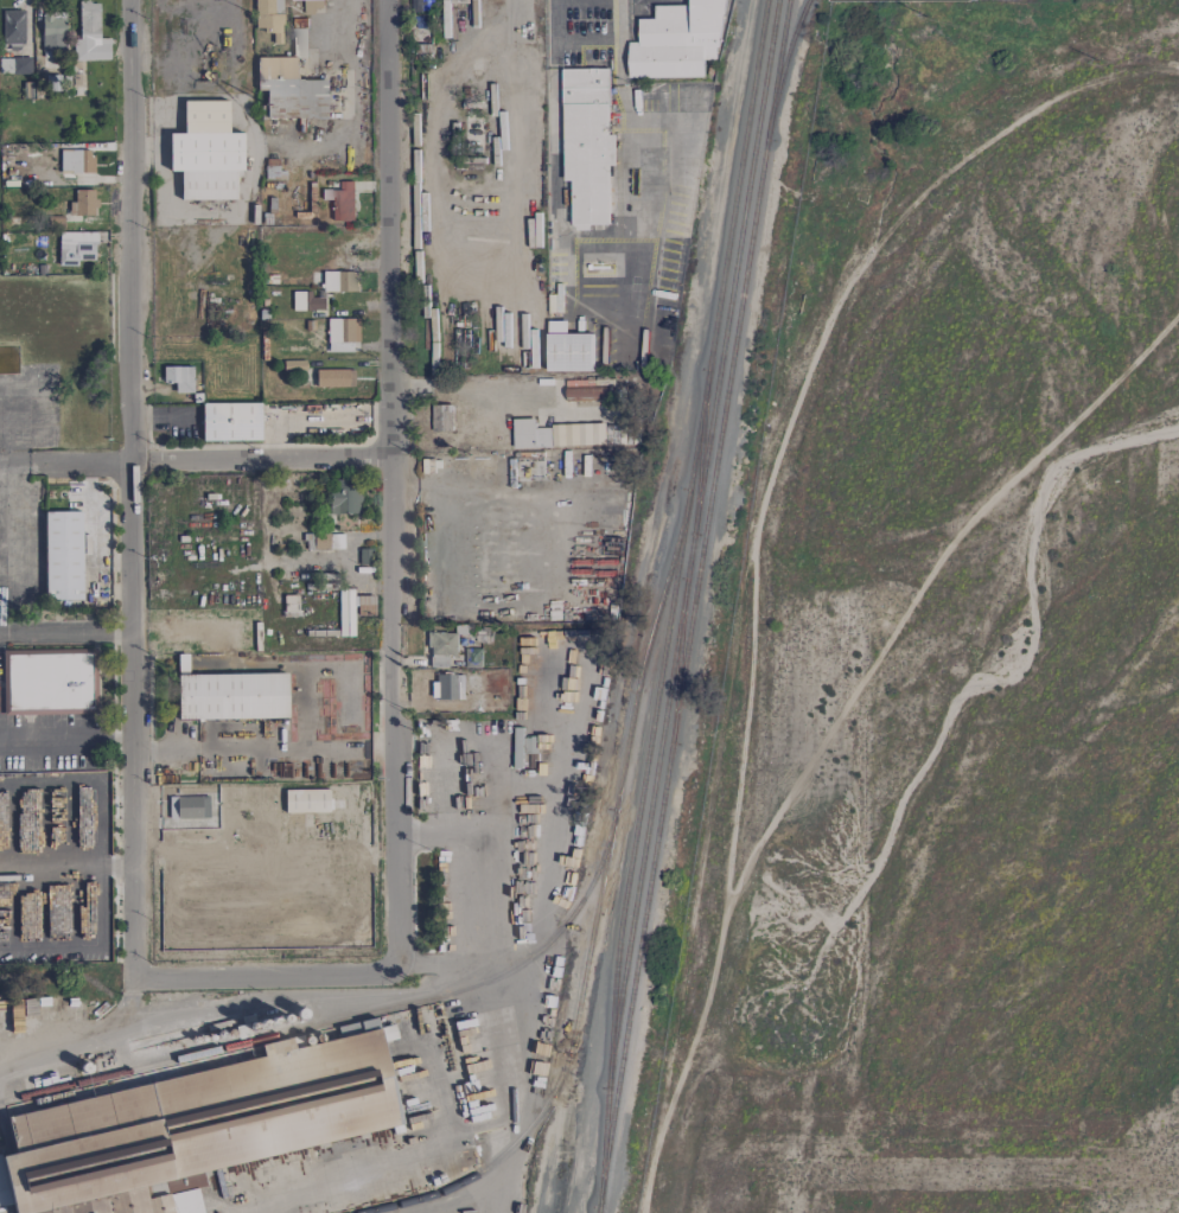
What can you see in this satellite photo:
building: (418, 5)
building: (269, 18)
road: (616, 20)
road: (553, 23)
building: (12, 28)
building: (52, 34)
building: (89, 36)
building: (678, 40)
building: (299, 43)
railway: (785, 63)
building: (14, 65)
building: (76, 75)
building: (52, 79)
building: (291, 90)
building: (587, 143)
building: (205, 153)
building: (76, 161)
building: (340, 200)
building: (82, 203)
railway: (739, 243)
road: (605, 244)
building: (75, 248)
building: (339, 281)
building: (306, 302)
building: (342, 334)
building: (567, 349)
building: (178, 378)
building: (334, 378)
road: (466, 384)
building: (586, 390)
building: (441, 417)
building: (230, 422)
building: (562, 434)
road: (214, 460)
road: (14, 466)
road: (32, 466)
railway: (689, 486)
road: (391, 489)
road: (132, 490)
road: (537, 493)
building: (344, 498)
road: (440, 518)
building: (327, 542)
building: (62, 556)
road: (69, 627)
road: (2, 628)
building: (440, 649)
building: (47, 681)
building: (447, 687)
building: (229, 695)
railway: (662, 730)
building: (530, 745)
road: (263, 749)
road: (94, 780)
building: (306, 802)
building: (189, 807)
road: (556, 825)
road: (497, 898)
road: (102, 906)
road: (266, 978)
railway: (489, 979)
road: (289, 1001)
building: (388, 1033)
road: (83, 1042)
railway: (562, 1071)
building: (193, 1128)

